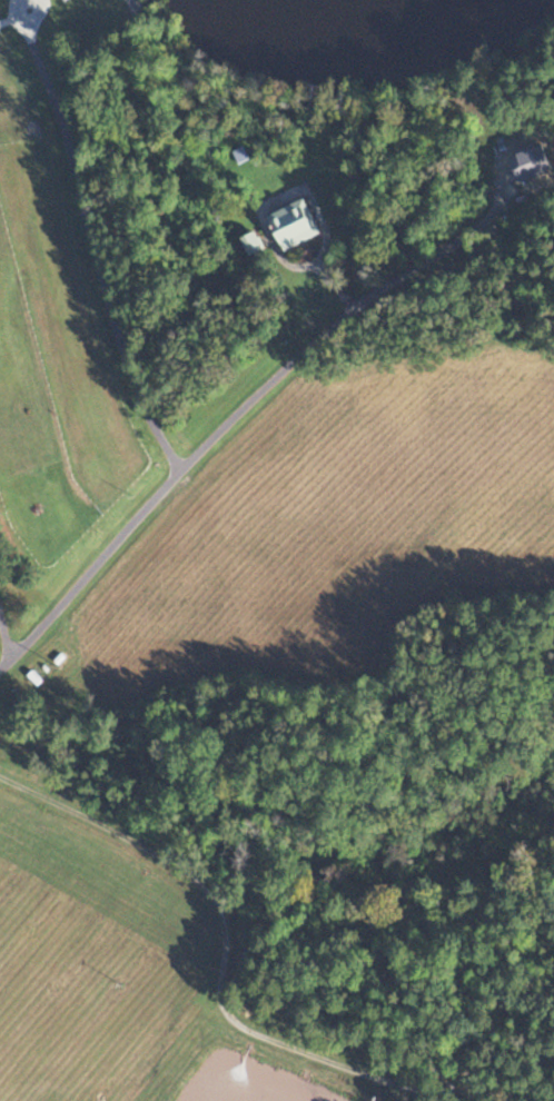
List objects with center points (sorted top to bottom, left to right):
building: (289, 226)
building: (513, 495)
building: (531, 528)
building: (532, 545)
building: (534, 561)
building: (518, 578)
building: (31, 678)

